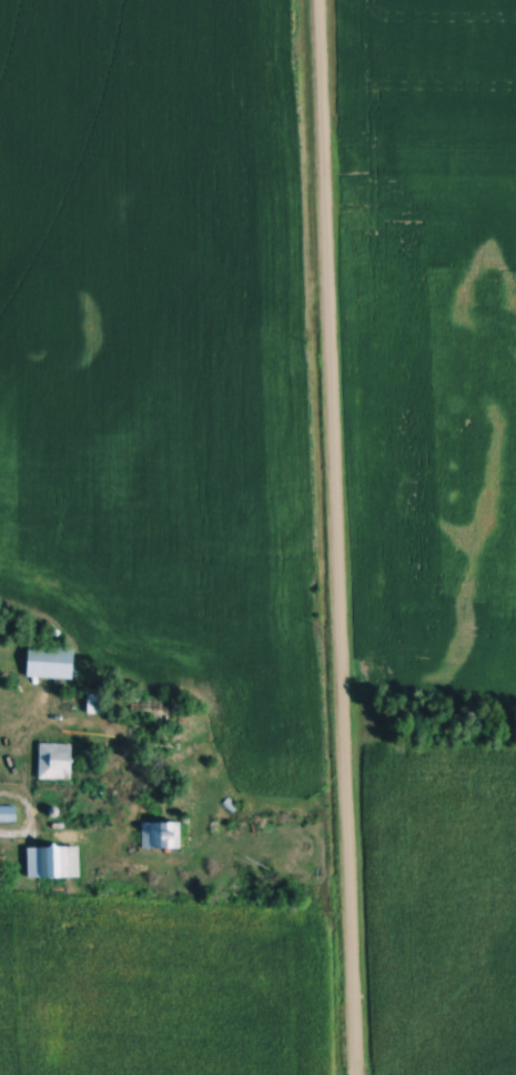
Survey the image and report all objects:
road: (336, 536)
building: (52, 663)
building: (104, 705)
building: (58, 762)
building: (9, 815)
building: (164, 836)
building: (55, 863)

